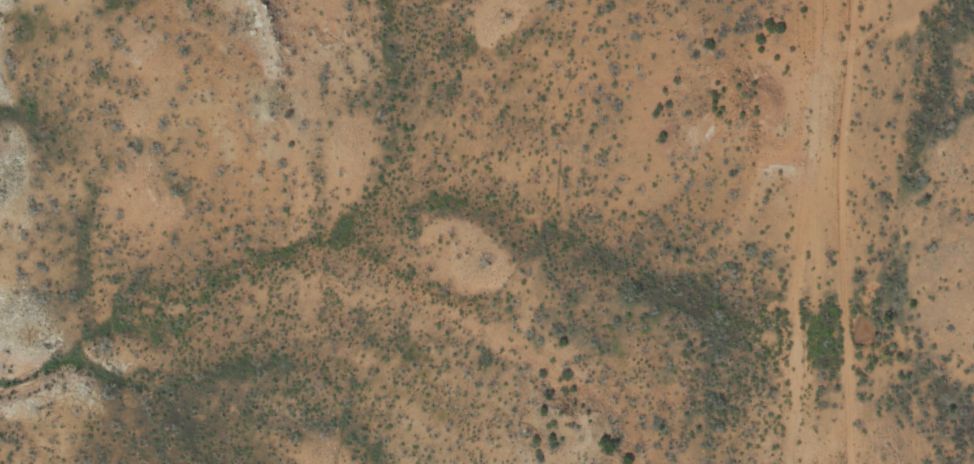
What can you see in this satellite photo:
road: (854, 232)

